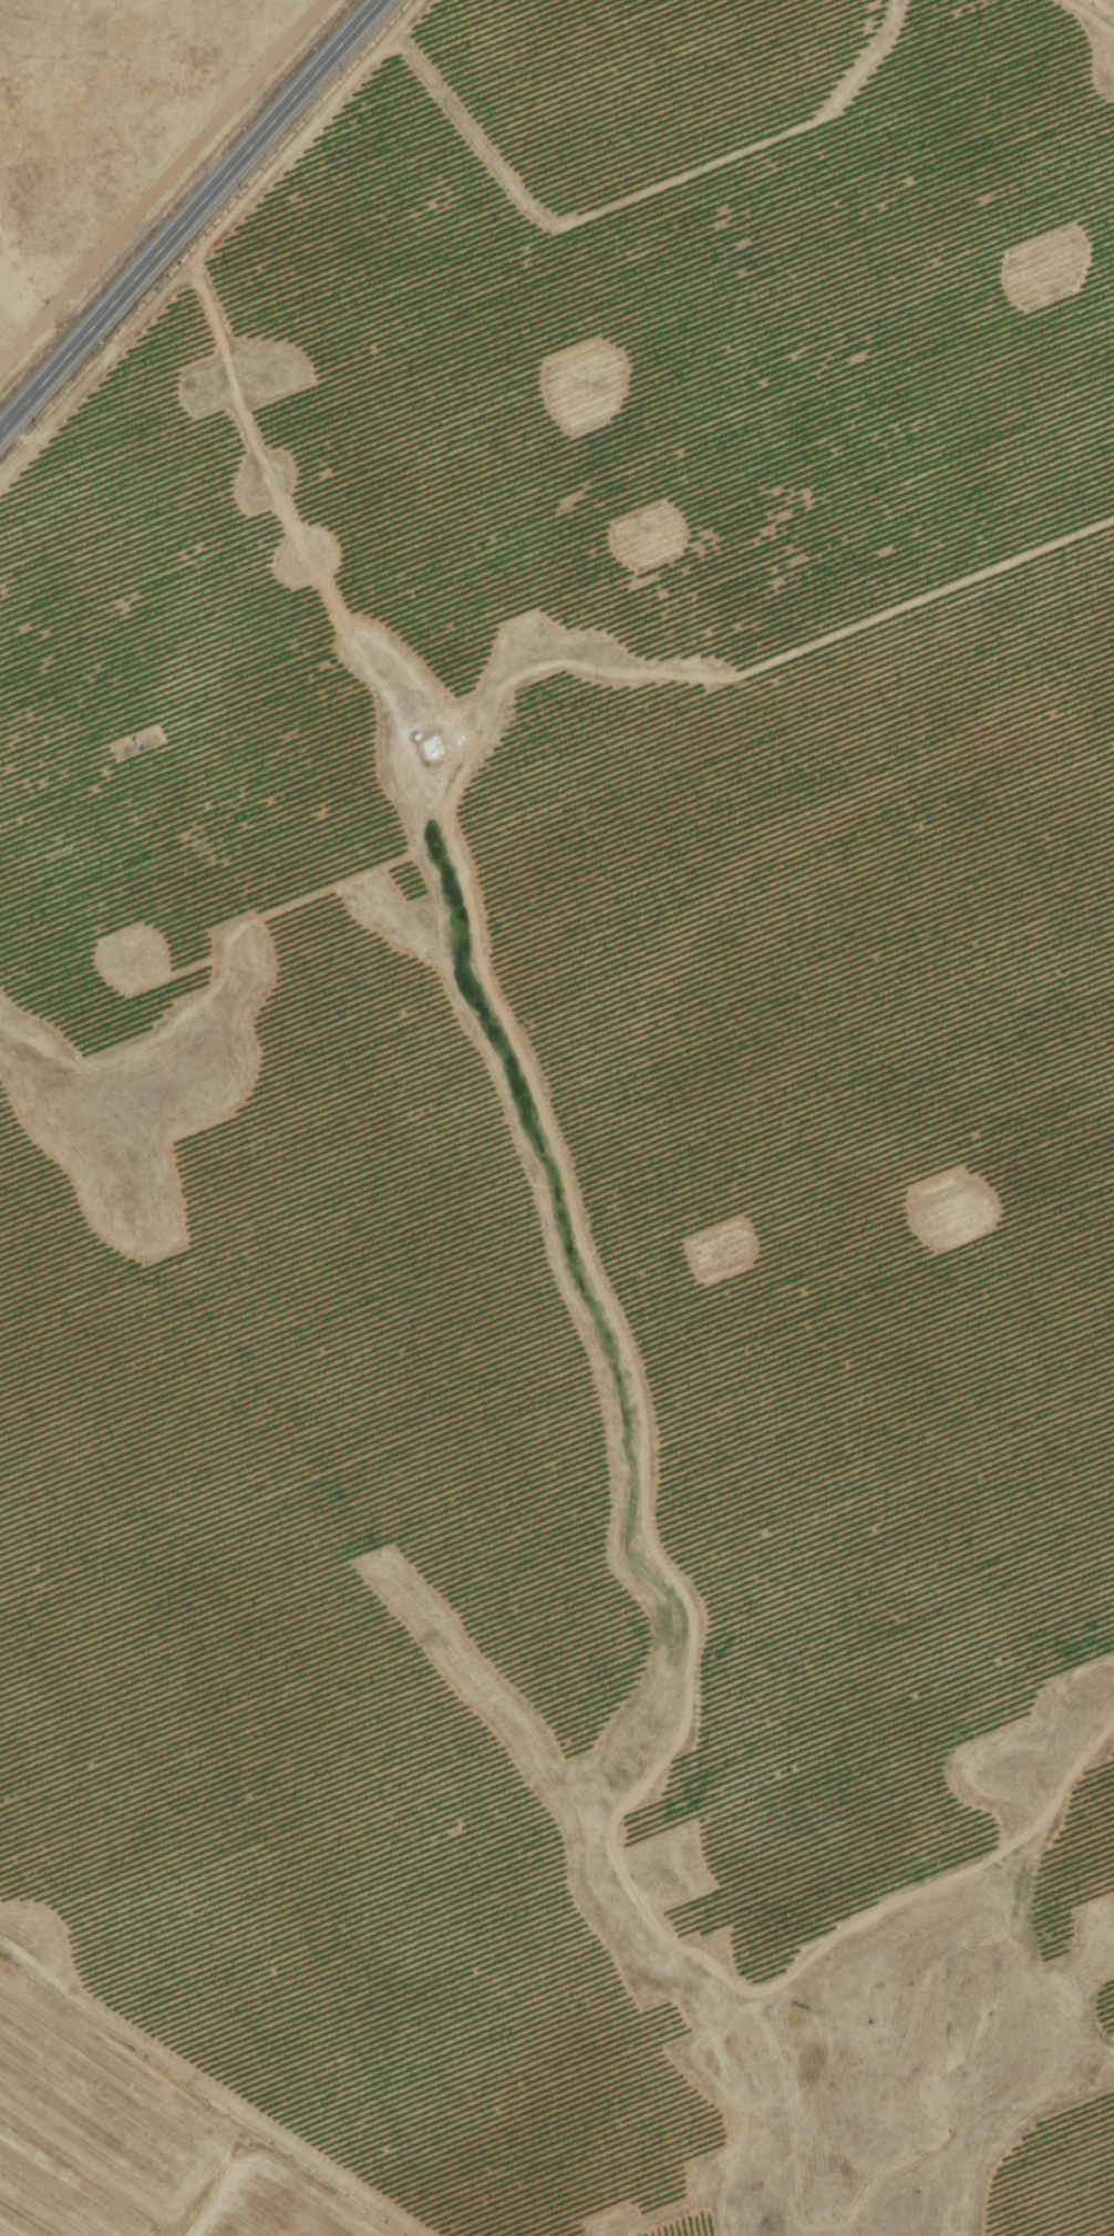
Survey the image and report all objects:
road: (199, 227)

